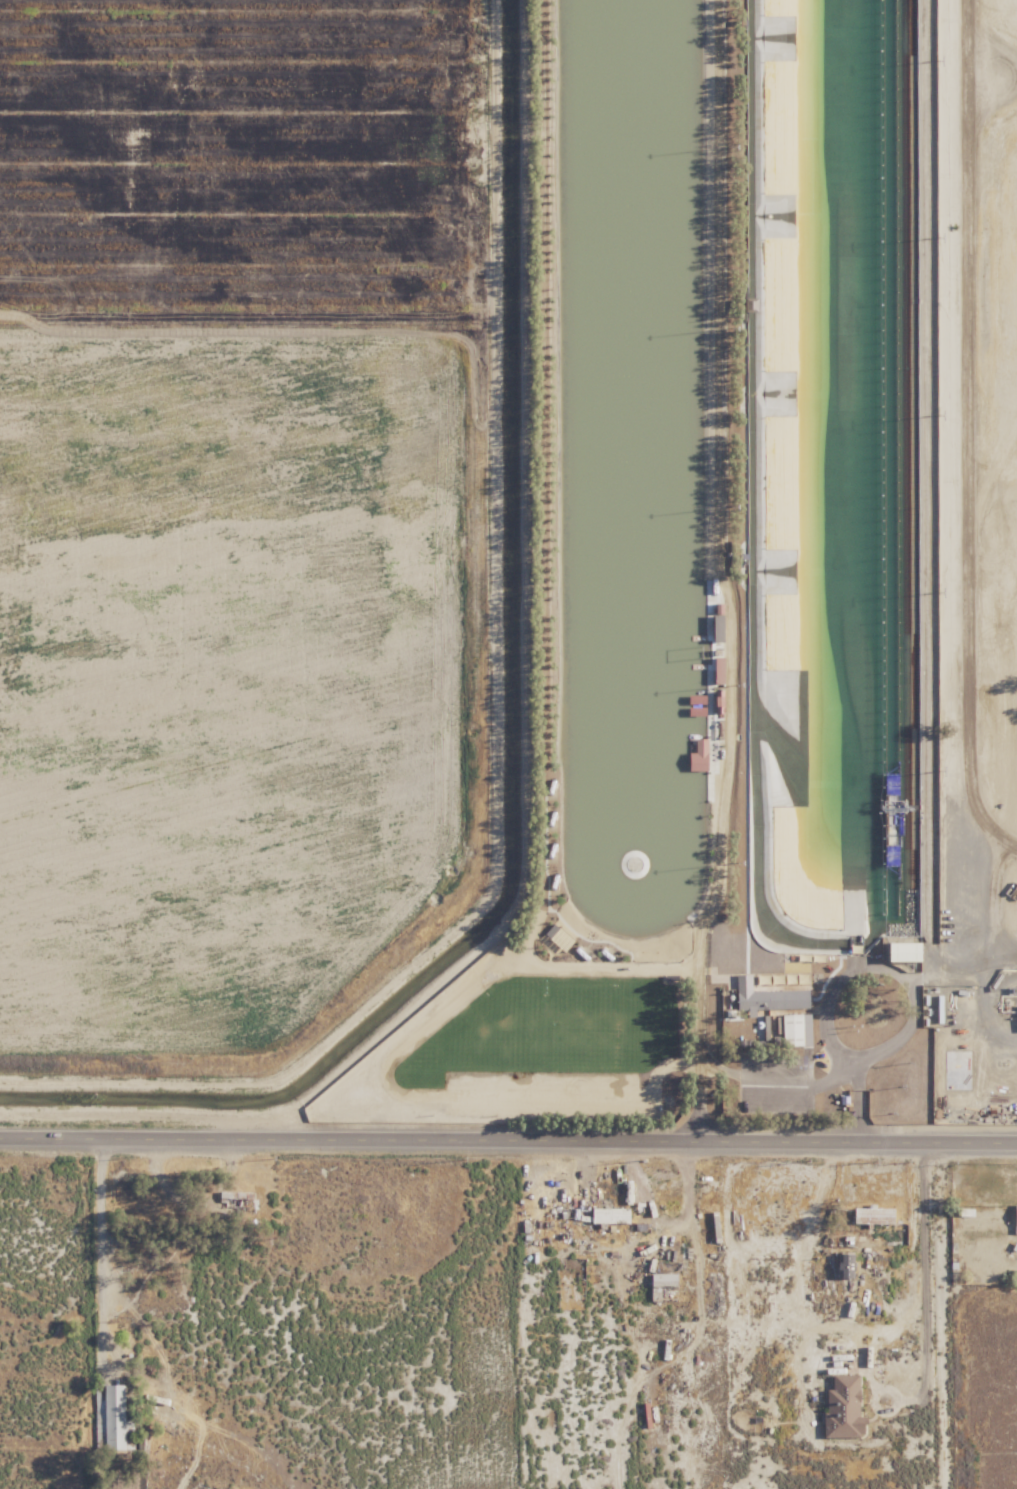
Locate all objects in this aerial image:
pier: (697, 602)
pier: (697, 636)
pier: (697, 666)
pier: (879, 734)
building: (697, 755)
road: (717, 848)
building: (897, 951)
building: (759, 999)
road: (906, 1017)
building: (791, 1030)
road: (697, 1120)
road: (508, 1139)
building: (870, 1214)
building: (608, 1215)
building: (1014, 1218)
road: (97, 1248)
road: (922, 1275)
building: (661, 1279)
building: (840, 1407)
building: (118, 1418)

